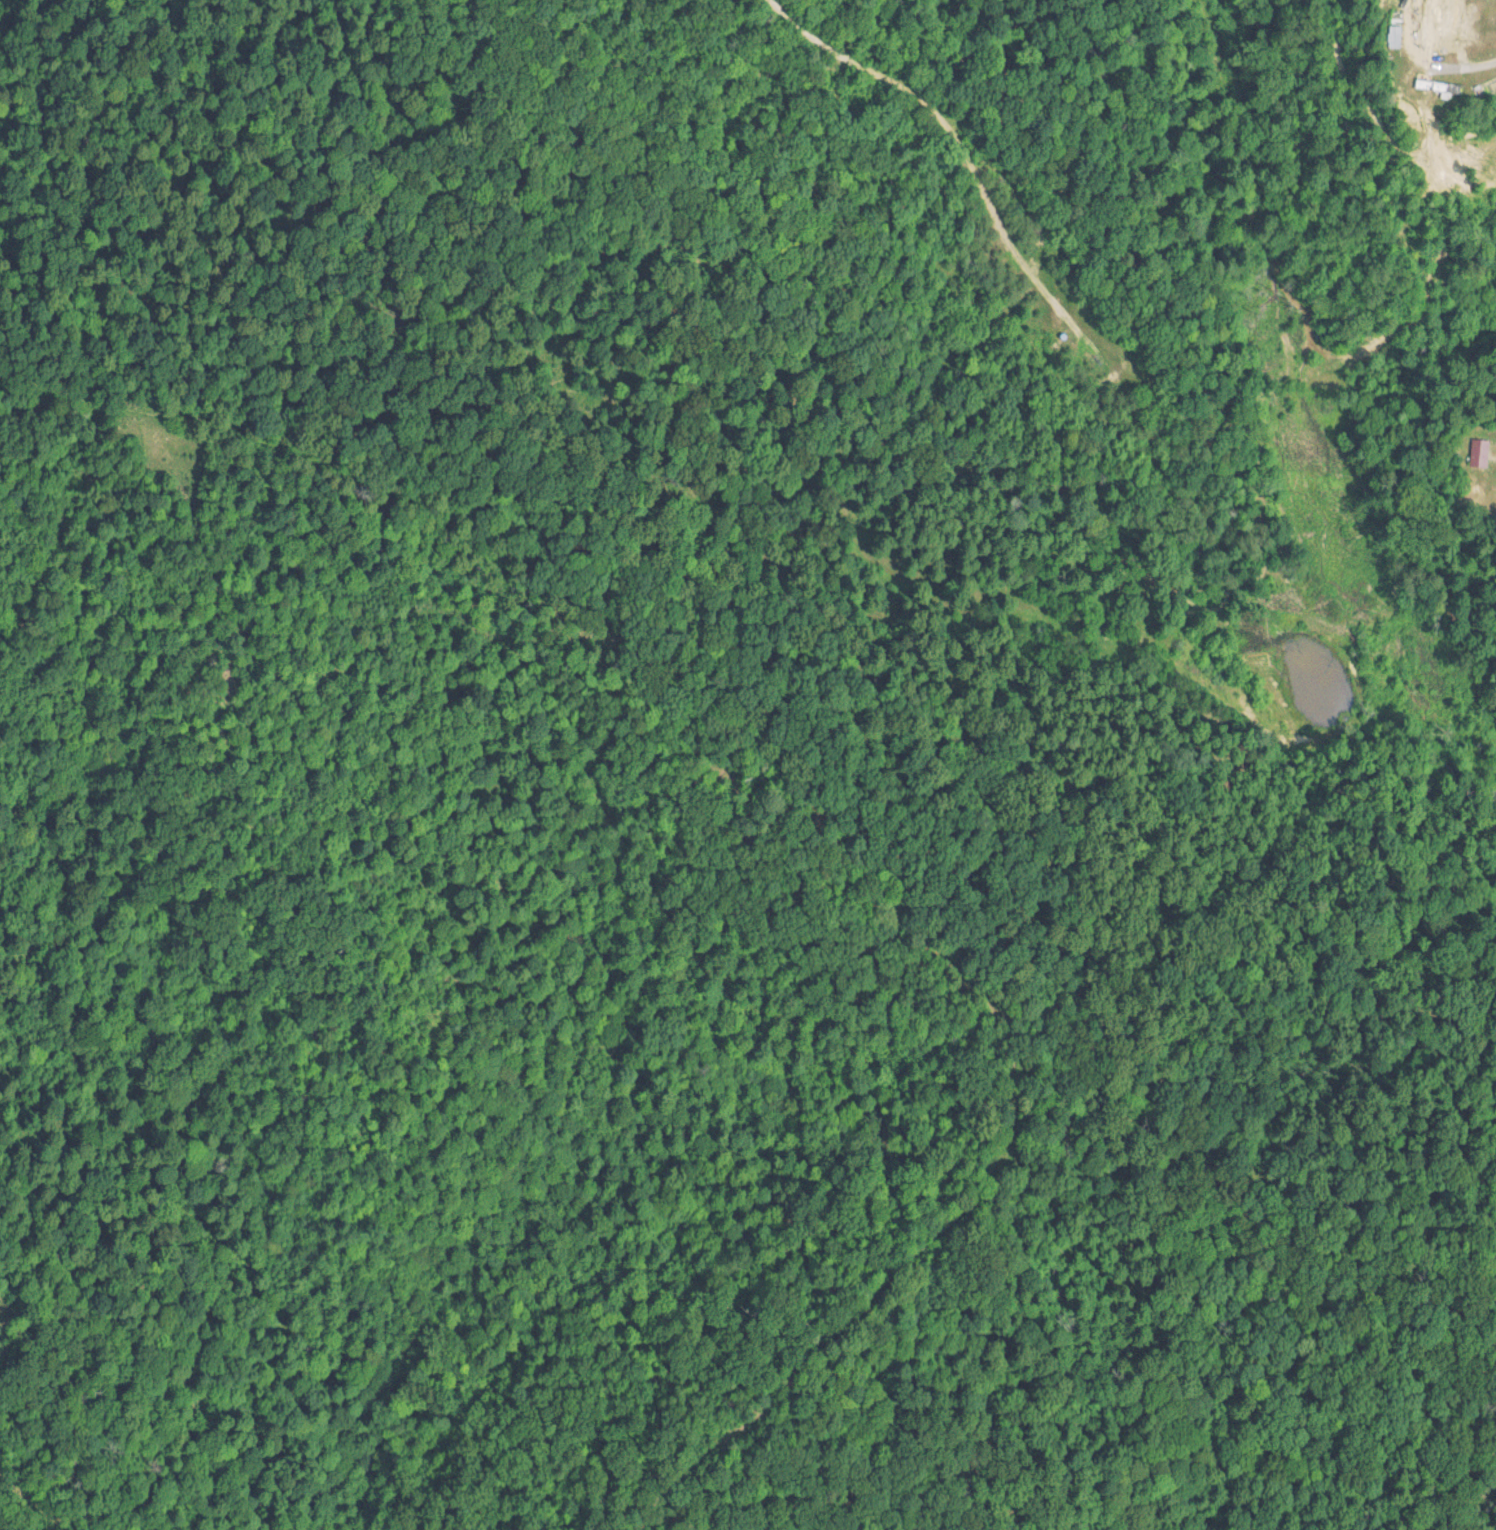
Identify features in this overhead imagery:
road: (1474, 69)

